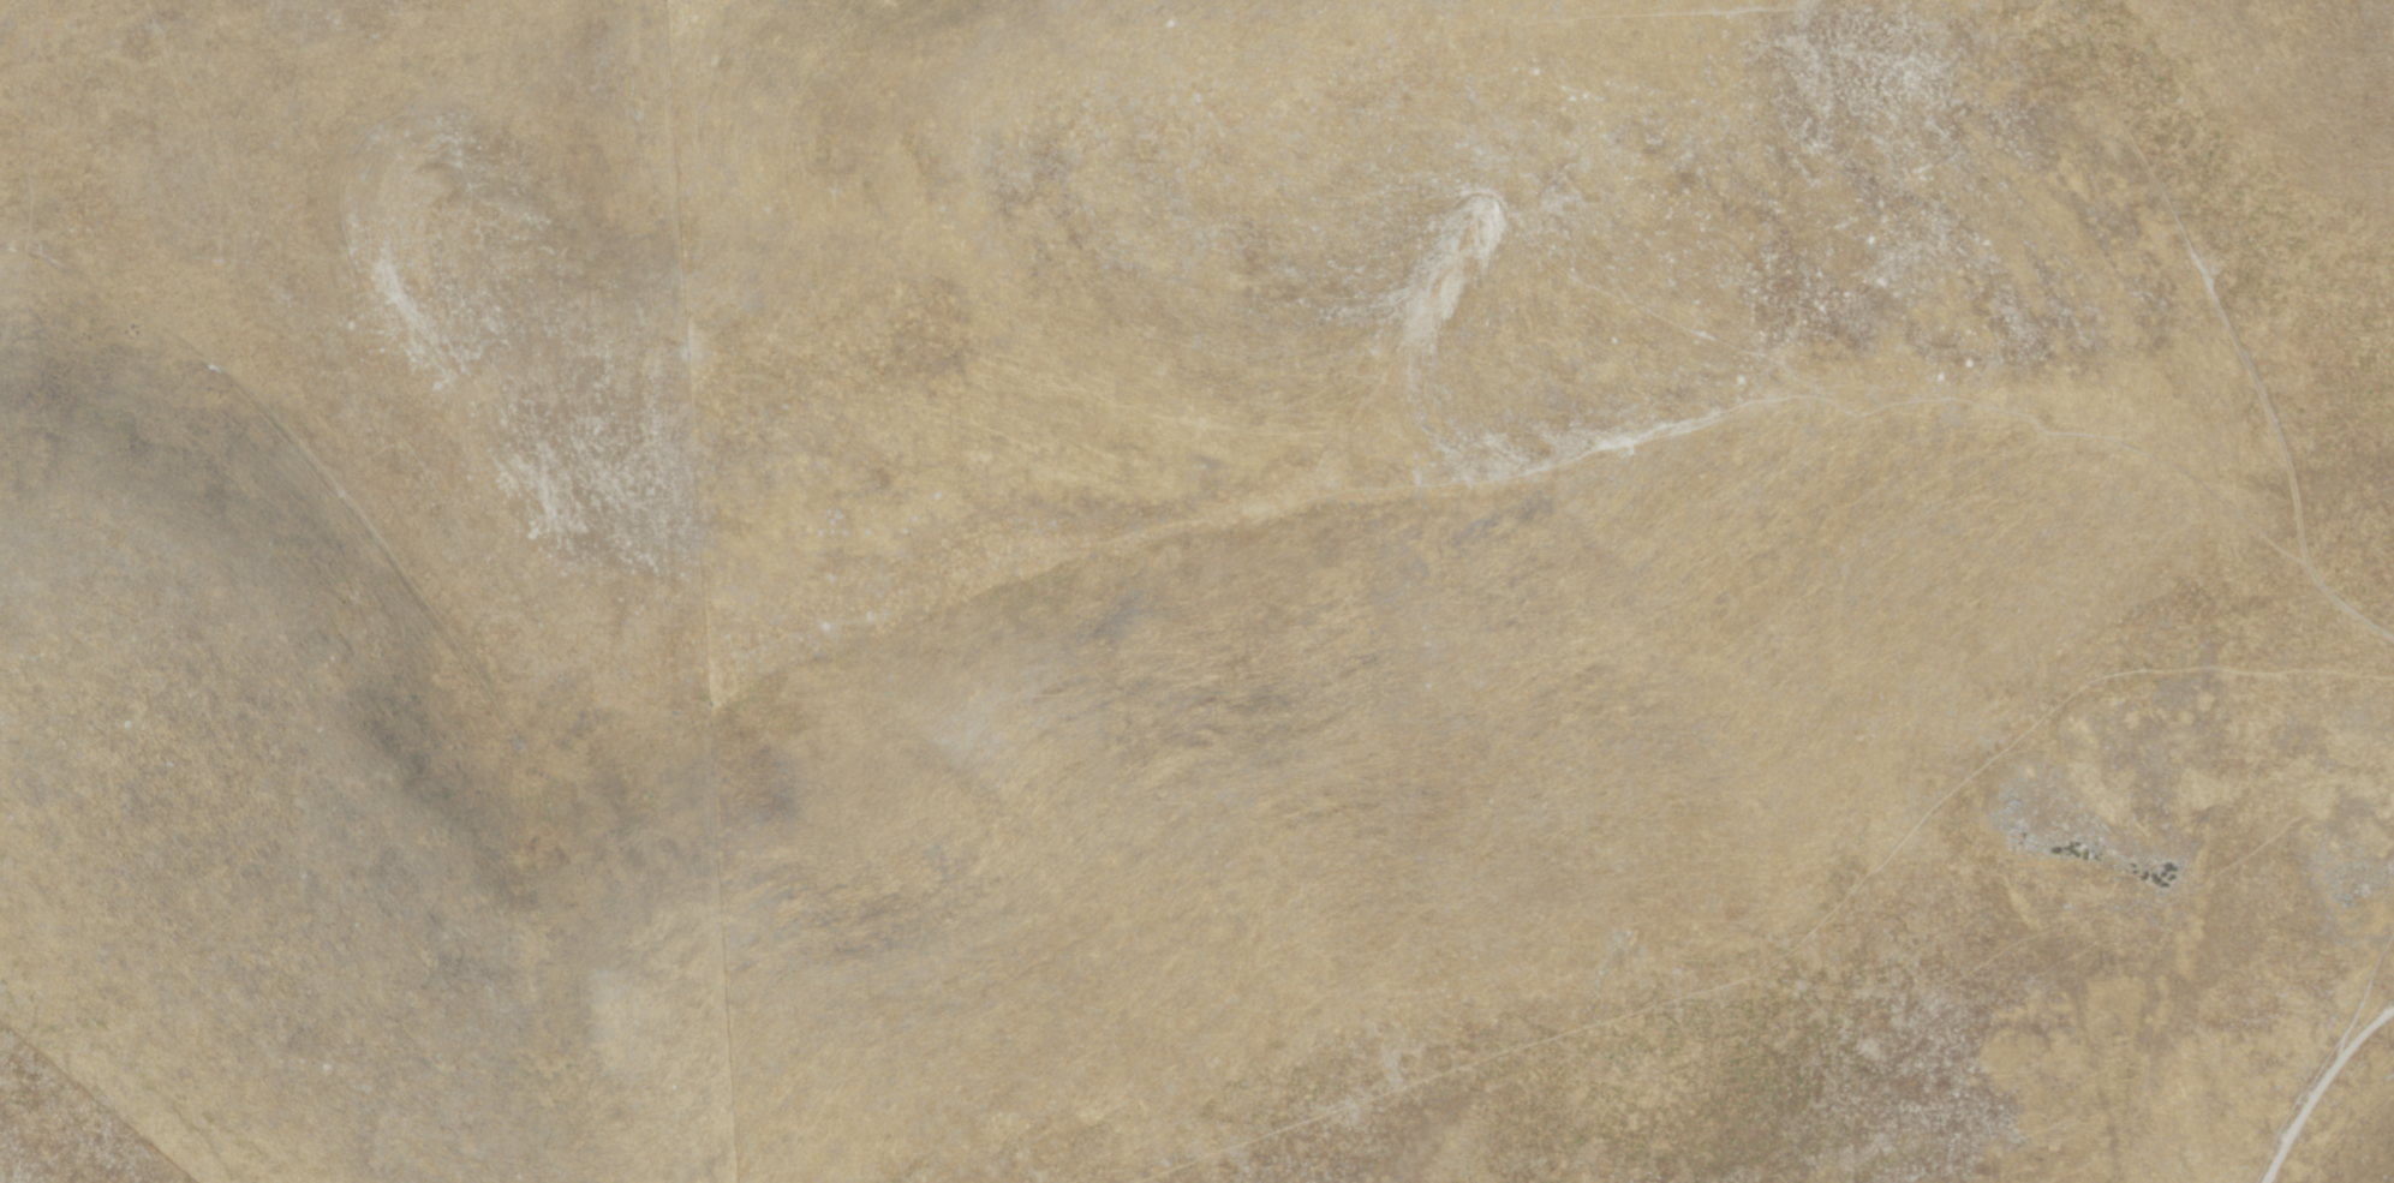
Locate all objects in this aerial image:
road: (2340, 1116)

